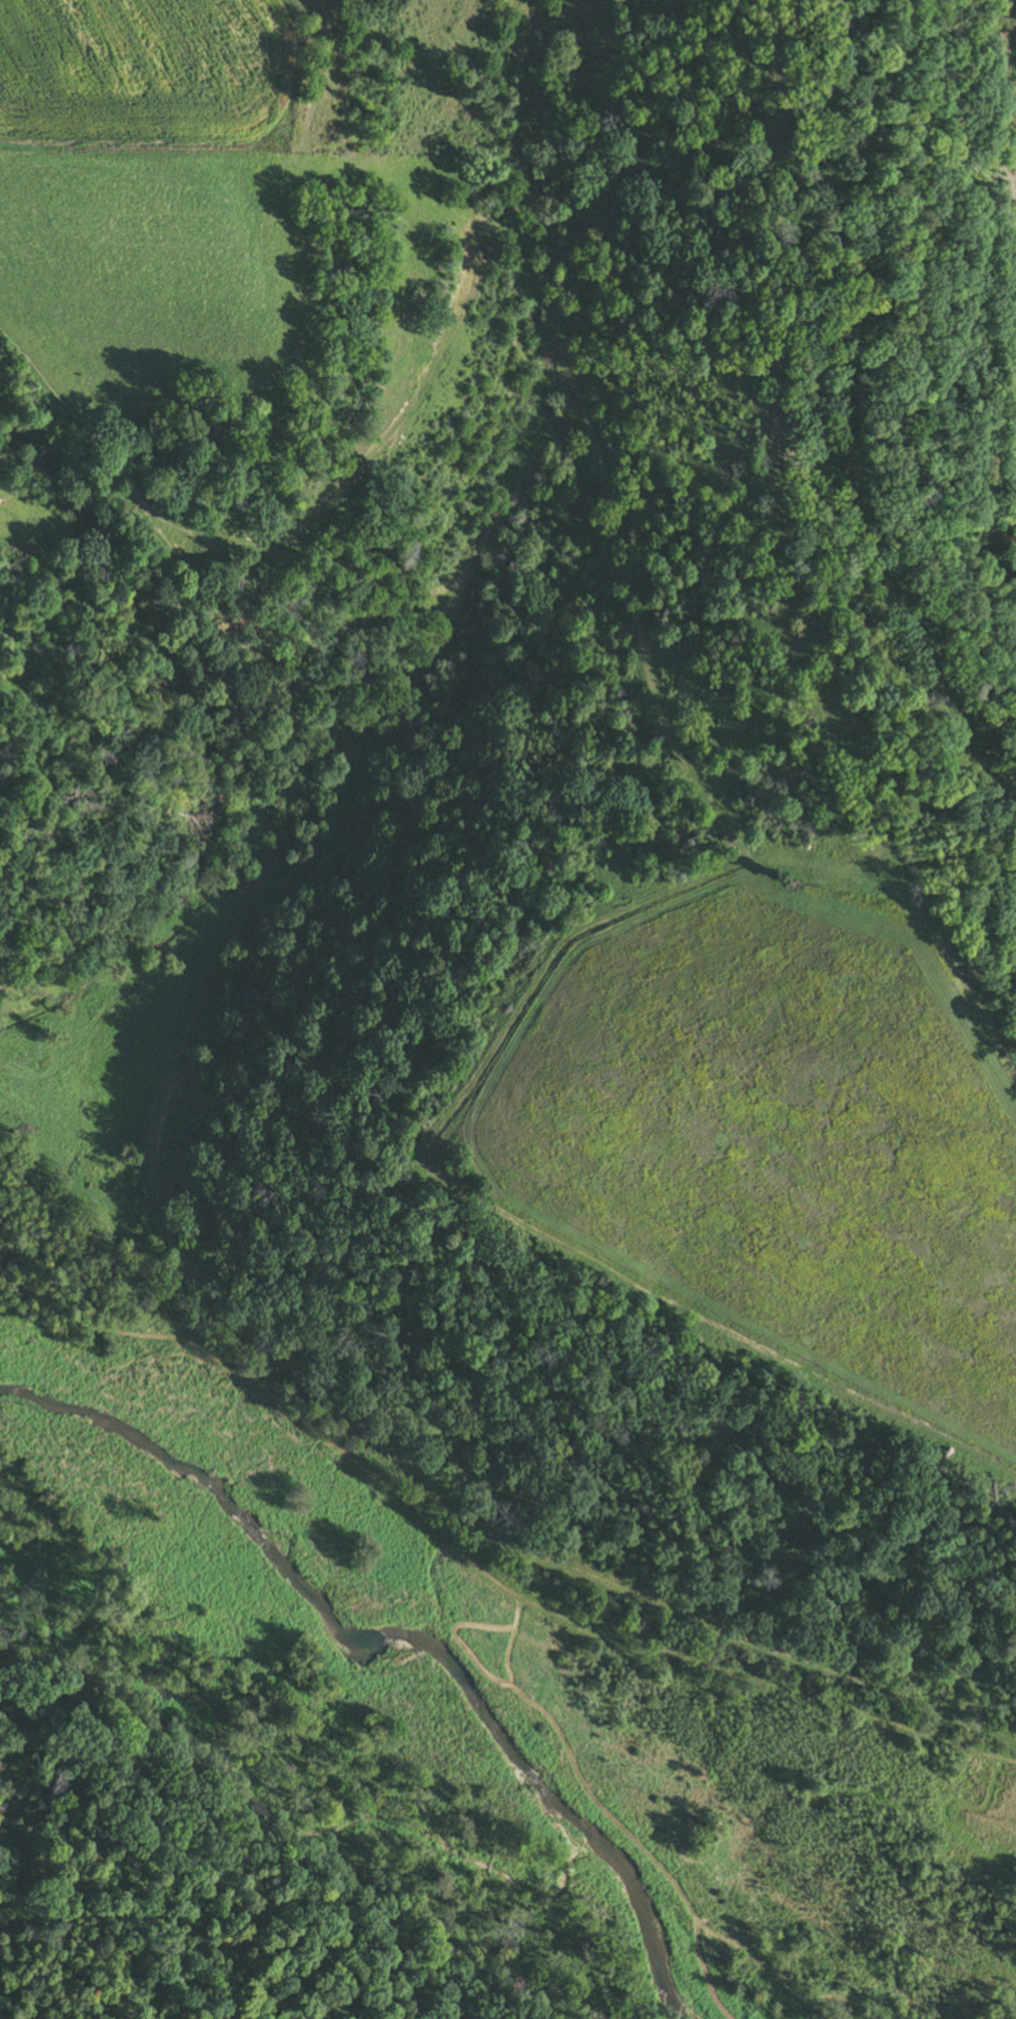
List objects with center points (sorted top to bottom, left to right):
road: (99, 1971)
road: (783, 1974)
road: (727, 1991)
road: (91, 2007)

